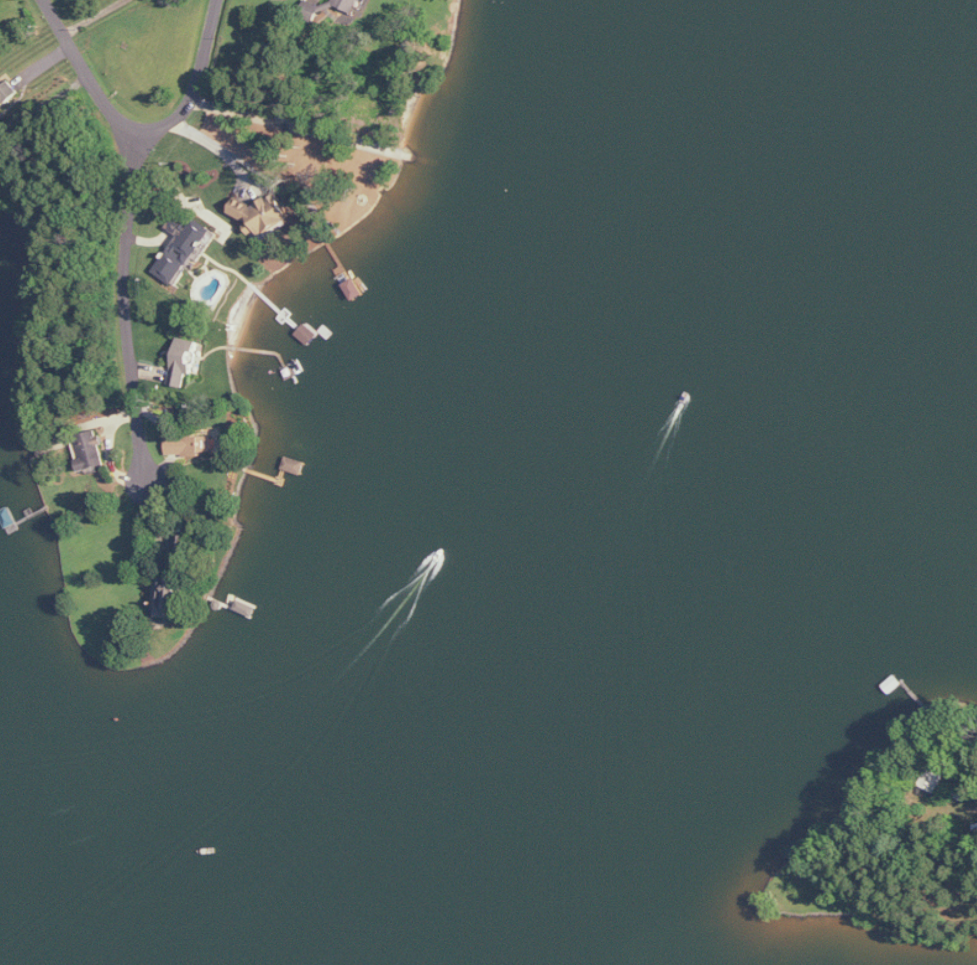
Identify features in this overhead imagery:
building: (349, 5)
building: (8, 93)
road: (139, 129)
building: (182, 248)
road: (121, 305)
building: (184, 361)
building: (189, 445)
building: (92, 451)
building: (169, 594)

